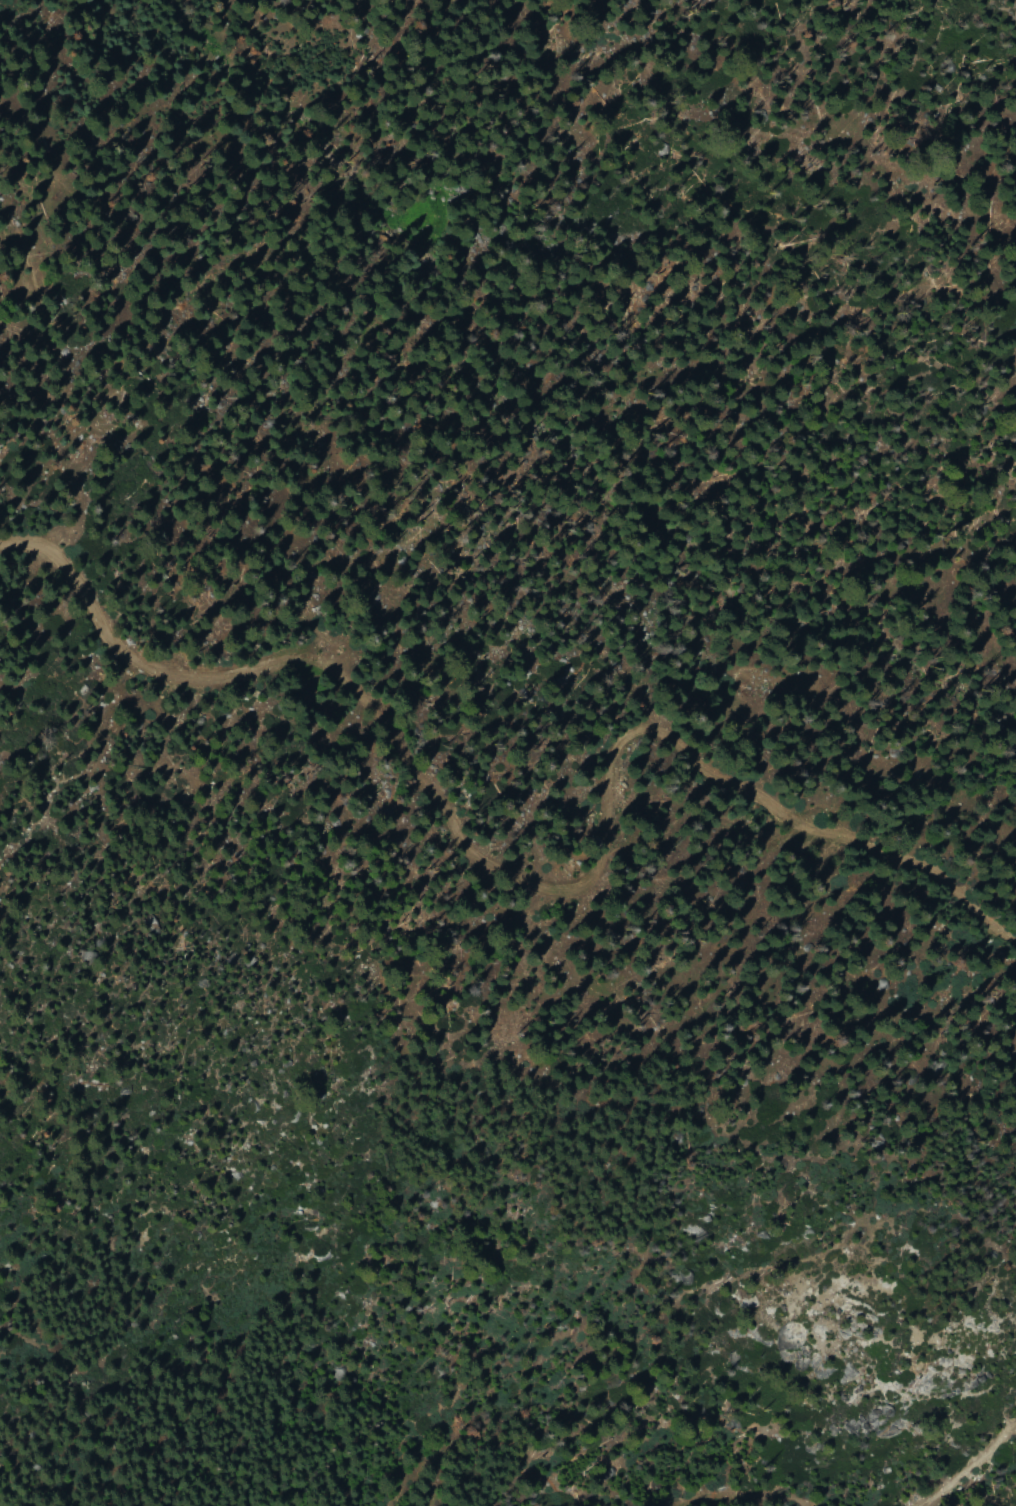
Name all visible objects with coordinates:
road: (487, 851)
road: (1014, 1504)

